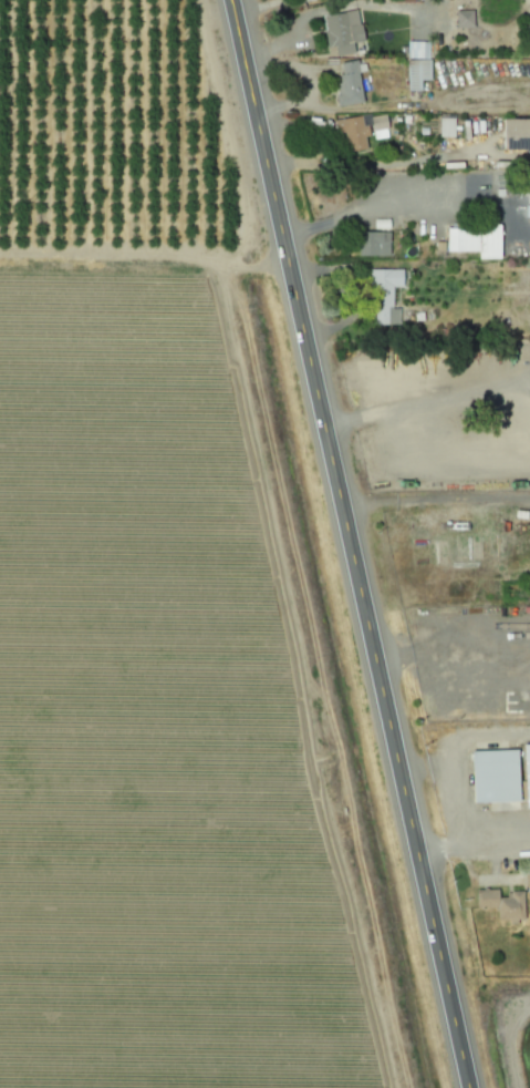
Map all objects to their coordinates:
road: (324, 14)
building: (466, 19)
building: (344, 31)
building: (418, 64)
building: (350, 82)
building: (446, 126)
building: (363, 130)
building: (517, 134)
road: (396, 198)
building: (477, 242)
building: (374, 243)
road: (145, 258)
building: (386, 295)
road: (515, 390)
road: (435, 491)
road: (349, 543)
road: (453, 657)
road: (302, 674)
crop: (172, 709)
building: (529, 771)
building: (500, 777)
road: (472, 844)
building: (528, 880)
building: (503, 904)

